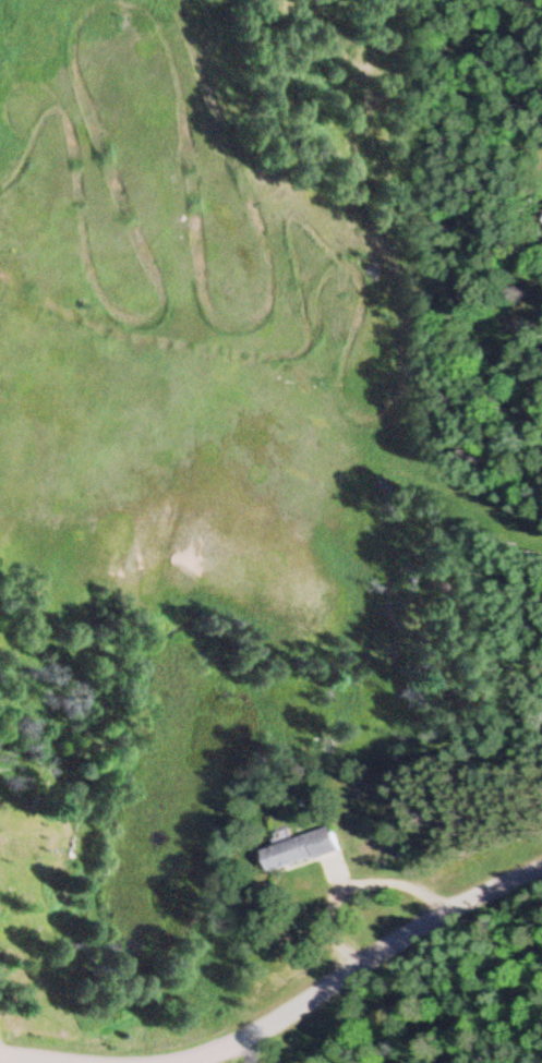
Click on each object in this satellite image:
building: (297, 851)
road: (365, 962)
road: (20, 1061)

